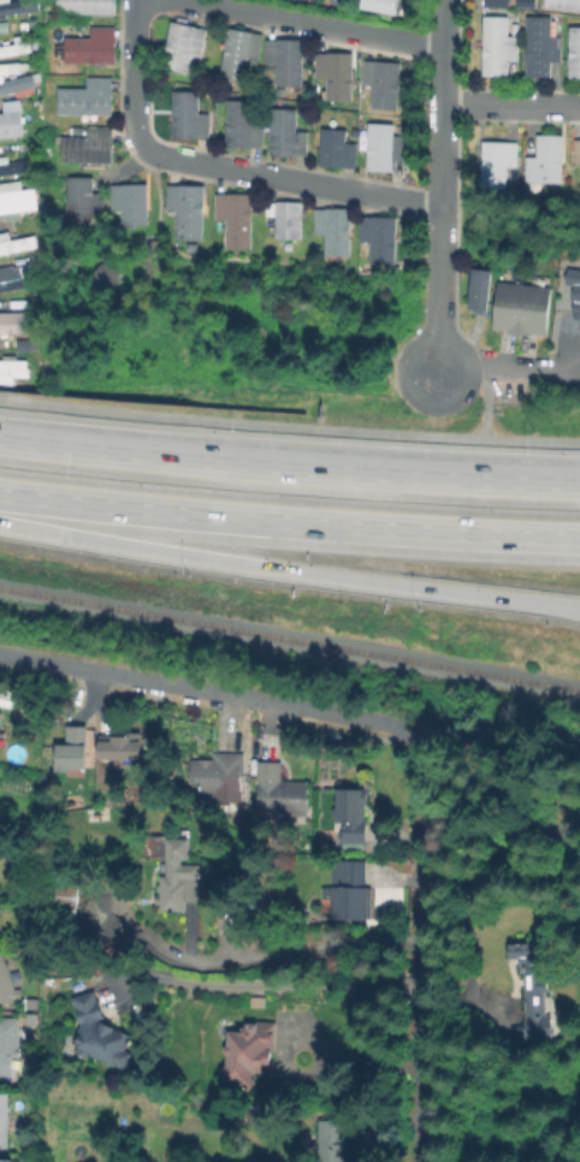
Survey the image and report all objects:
building: (274, 0)
building: (525, 2)
building: (497, 5)
building: (563, 5)
building: (386, 7)
building: (18, 8)
building: (93, 8)
road: (315, 23)
building: (185, 48)
building: (499, 48)
building: (543, 49)
building: (16, 51)
building: (95, 51)
building: (242, 53)
building: (575, 54)
building: (289, 61)
building: (338, 76)
building: (17, 85)
building: (385, 87)
road: (440, 93)
building: (89, 101)
road: (510, 105)
building: (8, 118)
building: (190, 118)
building: (247, 130)
building: (357, 134)
building: (290, 136)
building: (386, 149)
building: (90, 150)
building: (339, 152)
building: (578, 154)
road: (218, 162)
building: (546, 164)
building: (12, 166)
building: (498, 166)
building: (17, 200)
building: (85, 202)
building: (134, 203)
building: (190, 212)
building: (237, 219)
building: (288, 219)
building: (335, 232)
building: (379, 241)
building: (14, 243)
building: (316, 251)
building: (11, 277)
road: (437, 277)
building: (477, 290)
building: (576, 301)
building: (519, 308)
building: (13, 321)
building: (579, 352)
building: (11, 368)
road: (508, 369)
road: (484, 386)
road: (289, 427)
road: (289, 468)
road: (289, 522)
road: (289, 568)
railway: (289, 639)
road: (213, 694)
building: (1, 719)
building: (120, 745)
building: (72, 747)
building: (219, 781)
building: (279, 794)
building: (350, 808)
building: (353, 840)
building: (180, 872)
building: (350, 893)
road: (422, 948)
road: (253, 956)
building: (6, 984)
road: (267, 986)
building: (534, 990)
building: (95, 1032)
building: (10, 1042)
building: (244, 1050)
building: (4, 1121)
building: (333, 1142)
building: (7, 1160)

